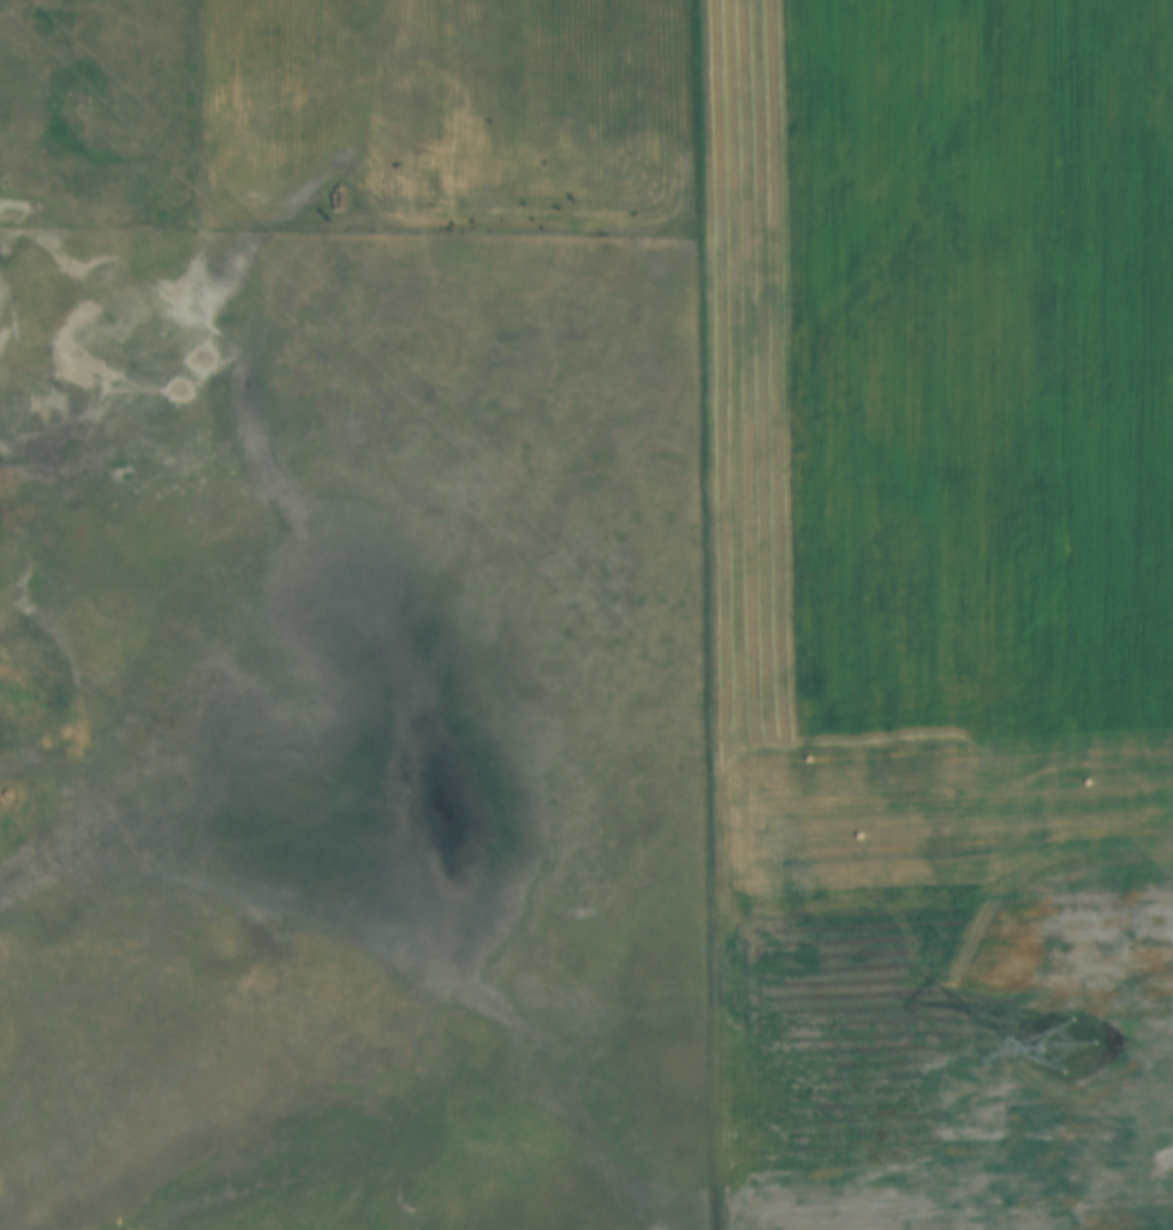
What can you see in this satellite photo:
power tower: (1067, 1045)

